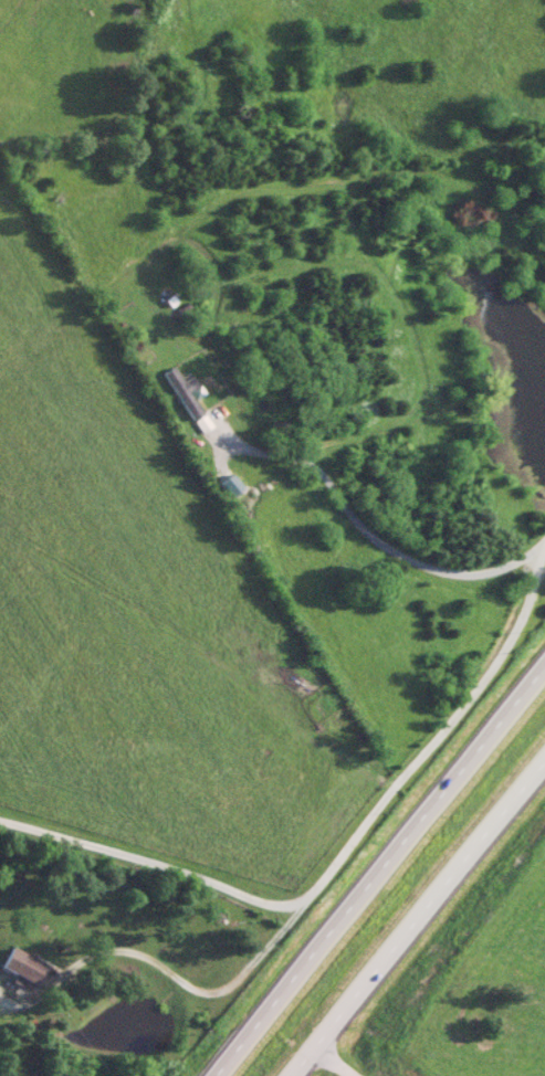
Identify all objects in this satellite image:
building: (184, 390)
road: (392, 789)
road: (375, 866)
road: (420, 917)
building: (23, 964)

